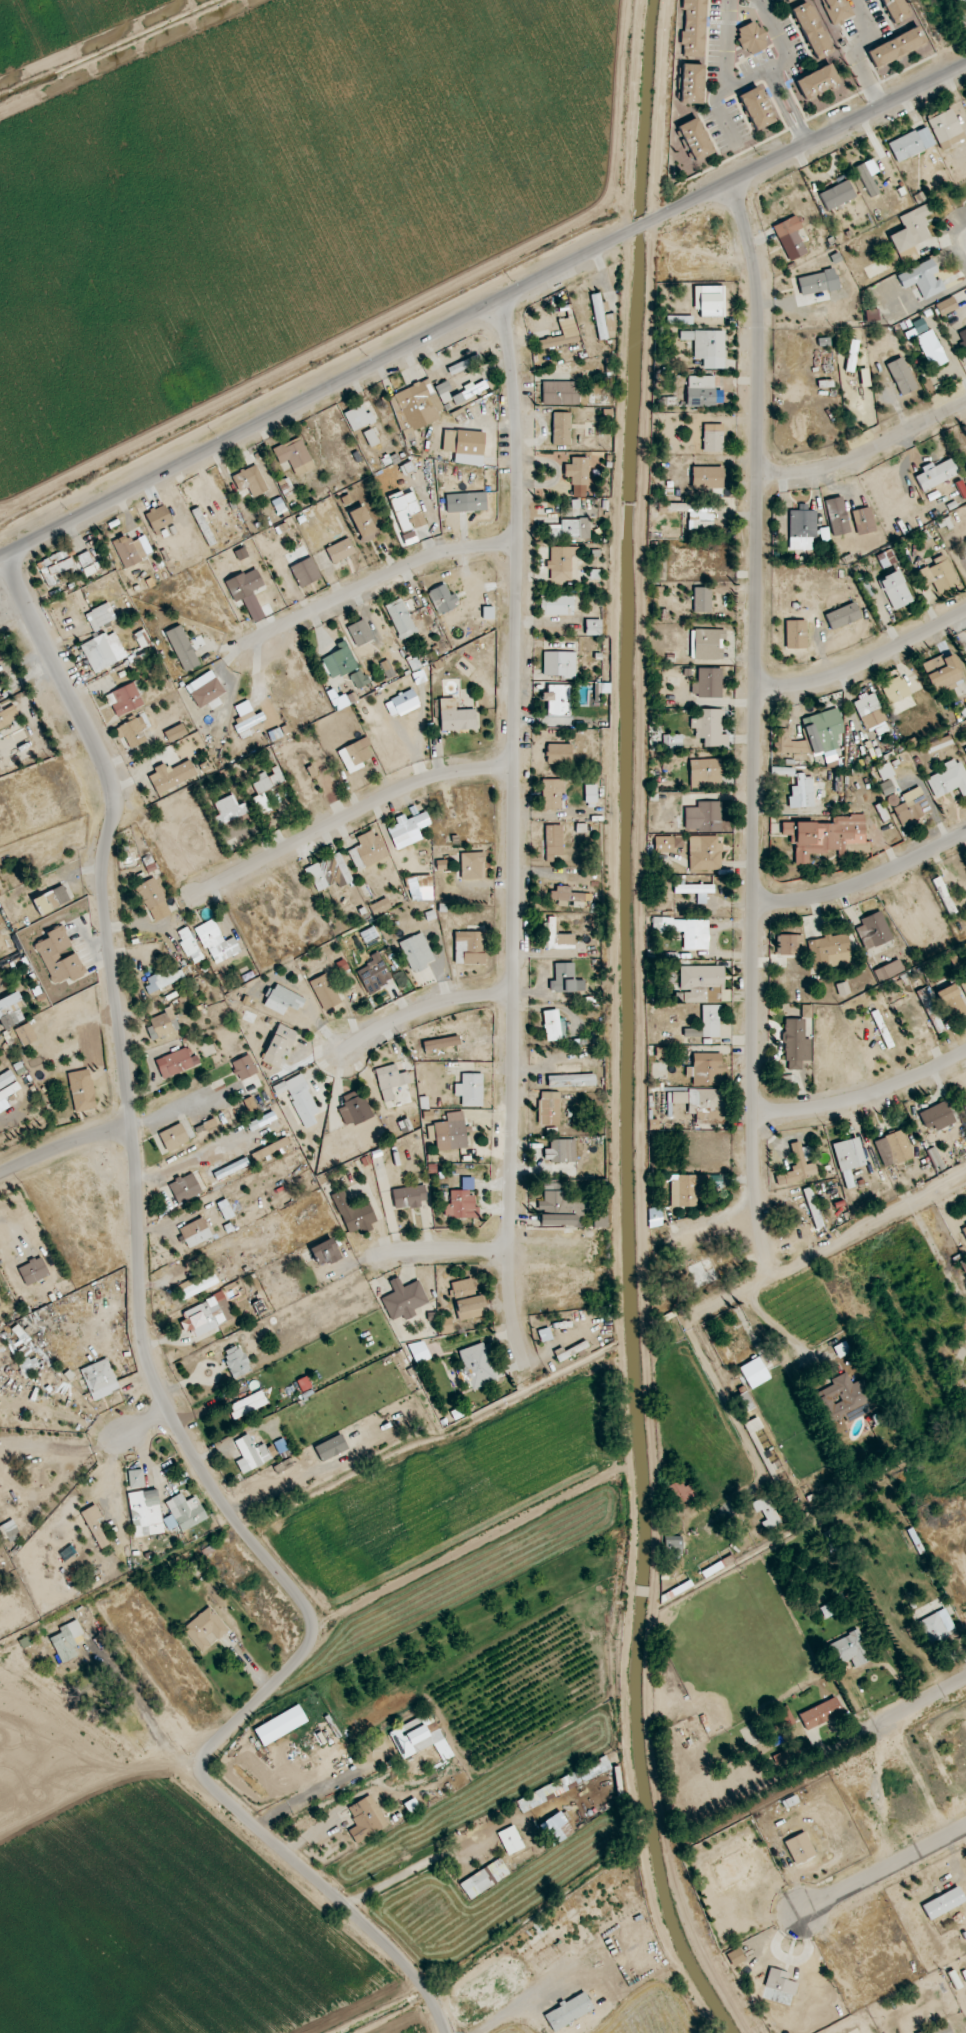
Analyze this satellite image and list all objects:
building: (959, 0)
building: (894, 10)
building: (835, 11)
building: (695, 28)
building: (811, 30)
building: (751, 39)
road: (781, 39)
building: (896, 47)
road: (861, 55)
road: (726, 68)
road: (772, 76)
building: (817, 81)
road: (776, 82)
building: (692, 83)
building: (755, 109)
building: (946, 129)
road: (802, 135)
building: (695, 139)
building: (911, 144)
building: (867, 179)
building: (837, 195)
building: (911, 229)
building: (790, 238)
building: (908, 255)
building: (922, 279)
building: (818, 282)
building: (711, 301)
building: (946, 306)
road: (487, 309)
building: (871, 315)
building: (679, 320)
building: (603, 321)
building: (919, 326)
building: (963, 336)
building: (707, 347)
building: (931, 348)
building: (464, 364)
building: (901, 376)
building: (864, 377)
building: (443, 390)
building: (701, 391)
building: (559, 393)
building: (416, 405)
building: (358, 418)
building: (561, 428)
building: (370, 438)
building: (713, 438)
building: (464, 446)
road: (865, 452)
building: (294, 456)
building: (579, 475)
building: (936, 475)
building: (707, 477)
building: (250, 481)
building: (475, 501)
building: (407, 511)
building: (695, 512)
building: (837, 516)
building: (159, 518)
building: (863, 520)
building: (202, 524)
building: (362, 524)
building: (570, 529)
building: (802, 529)
building: (132, 550)
building: (340, 550)
building: (241, 553)
road: (4, 555)
building: (84, 559)
building: (561, 562)
building: (54, 567)
building: (305, 572)
building: (939, 574)
road: (380, 578)
building: (244, 584)
building: (895, 590)
building: (442, 598)
building: (702, 600)
building: (556, 605)
building: (101, 616)
building: (843, 616)
building: (401, 619)
building: (592, 627)
building: (360, 633)
building: (795, 634)
building: (142, 638)
building: (707, 644)
building: (182, 648)
building: (103, 651)
building: (339, 661)
building: (559, 664)
road: (865, 666)
building: (387, 669)
building: (942, 671)
building: (359, 679)
building: (708, 683)
building: (602, 687)
building: (205, 689)
building: (895, 690)
building: (127, 698)
building: (557, 700)
building: (402, 703)
building: (870, 711)
building: (8, 716)
building: (247, 716)
building: (456, 716)
road: (756, 727)
building: (709, 728)
building: (822, 730)
building: (131, 733)
building: (176, 733)
building: (788, 743)
building: (939, 743)
building: (965, 749)
building: (559, 753)
building: (355, 755)
building: (782, 771)
building: (885, 771)
building: (705, 773)
building: (171, 776)
building: (948, 779)
building: (268, 780)
building: (886, 787)
building: (803, 792)
building: (552, 794)
building: (591, 795)
building: (261, 803)
building: (912, 806)
building: (228, 810)
road: (346, 816)
building: (703, 817)
building: (408, 829)
road: (513, 832)
building: (824, 836)
building: (553, 842)
building: (668, 843)
building: (367, 850)
building: (704, 853)
building: (473, 865)
building: (329, 873)
road: (863, 878)
building: (420, 888)
building: (696, 891)
building: (565, 896)
building: (154, 899)
building: (51, 900)
building: (380, 907)
building: (873, 930)
building: (686, 931)
building: (558, 937)
building: (217, 942)
building: (790, 944)
building: (190, 945)
building: (965, 945)
building: (470, 948)
building: (829, 951)
building: (417, 952)
building: (59, 957)
building: (342, 965)
building: (888, 970)
building: (374, 973)
building: (563, 978)
building: (163, 979)
building: (703, 984)
building: (843, 988)
building: (324, 992)
building: (283, 999)
building: (950, 1001)
building: (930, 1010)
road: (417, 1011)
building: (806, 1011)
building: (11, 1014)
building: (707, 1023)
building: (162, 1024)
building: (554, 1026)
building: (26, 1034)
building: (439, 1044)
building: (796, 1044)
building: (279, 1045)
building: (176, 1063)
building: (244, 1067)
building: (706, 1069)
building: (6, 1079)
building: (390, 1080)
building: (571, 1080)
building: (470, 1090)
building: (82, 1091)
road: (864, 1097)
building: (704, 1098)
building: (302, 1100)
building: (3, 1102)
building: (355, 1107)
building: (549, 1108)
building: (937, 1116)
building: (261, 1121)
building: (451, 1132)
building: (174, 1137)
road: (63, 1145)
building: (895, 1147)
building: (271, 1150)
building: (561, 1151)
building: (848, 1159)
building: (798, 1165)
building: (228, 1170)
building: (185, 1188)
building: (683, 1191)
building: (409, 1196)
building: (462, 1205)
building: (559, 1206)
building: (813, 1207)
building: (225, 1210)
building: (355, 1213)
building: (600, 1219)
building: (964, 1230)
building: (195, 1232)
road: (825, 1246)
road: (434, 1250)
building: (325, 1252)
building: (33, 1270)
building: (703, 1273)
building: (197, 1284)
building: (462, 1287)
building: (404, 1299)
building: (470, 1308)
building: (206, 1315)
building: (445, 1325)
road: (777, 1328)
building: (544, 1335)
building: (419, 1352)
building: (237, 1361)
building: (475, 1367)
road: (151, 1375)
building: (99, 1378)
building: (847, 1398)
building: (744, 1402)
building: (249, 1404)
road: (140, 1424)
building: (753, 1425)
building: (330, 1447)
building: (250, 1454)
building: (135, 1478)
road: (271, 1486)
building: (681, 1492)
building: (145, 1512)
building: (184, 1512)
building: (766, 1512)
building: (94, 1525)
building: (830, 1541)
building: (672, 1547)
building: (938, 1626)
building: (205, 1629)
building: (66, 1640)
building: (850, 1649)
road: (916, 1700)
building: (820, 1713)
building: (280, 1724)
building: (564, 1784)
building: (411, 1805)
building: (365, 1819)
road: (325, 1825)
building: (556, 1828)
building: (510, 1840)
building: (799, 1848)
road: (414, 1868)
road: (883, 1870)
building: (484, 1878)
building: (943, 1903)
building: (779, 1981)
building: (568, 2011)
building: (938, 2029)

